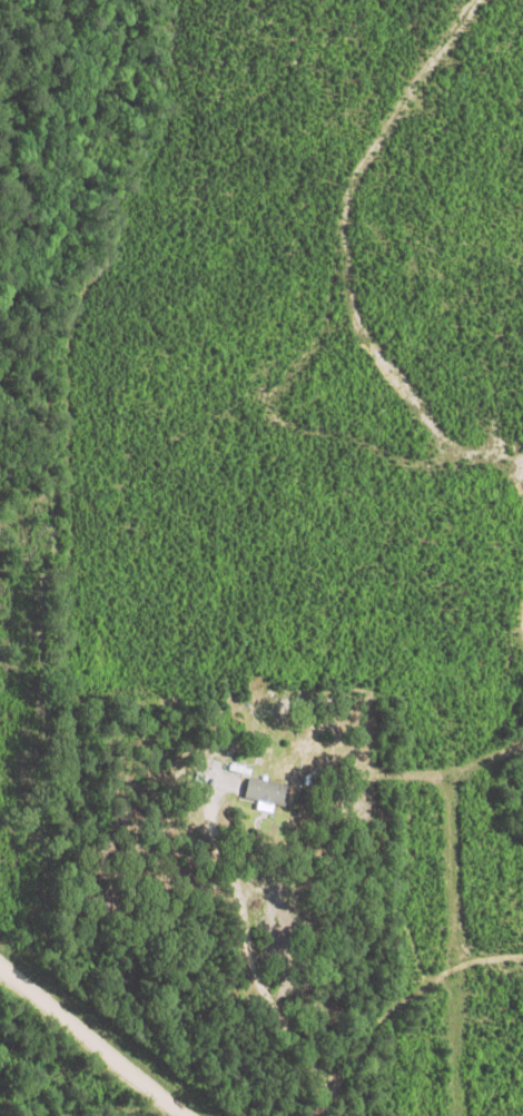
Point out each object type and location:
road: (347, 256)
road: (521, 597)
building: (250, 787)
road: (255, 944)
road: (405, 1001)
road: (93, 1040)

